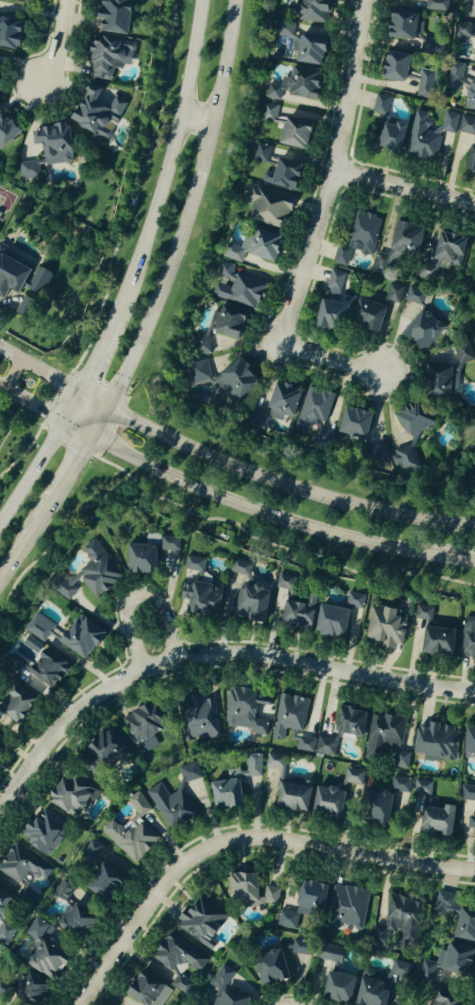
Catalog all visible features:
building: (24, 0)
building: (436, 5)
building: (468, 8)
building: (310, 10)
building: (110, 16)
building: (397, 25)
building: (8, 34)
building: (465, 37)
building: (301, 44)
road: (57, 46)
building: (106, 56)
building: (390, 66)
building: (422, 85)
building: (293, 86)
building: (461, 86)
building: (379, 104)
building: (93, 111)
building: (268, 112)
road: (197, 119)
building: (466, 125)
building: (5, 131)
building: (291, 133)
building: (387, 135)
building: (428, 136)
building: (52, 143)
building: (261, 154)
road: (167, 162)
building: (28, 170)
building: (280, 175)
road: (406, 188)
building: (266, 206)
road: (181, 225)
road: (319, 225)
building: (357, 238)
building: (399, 245)
building: (250, 246)
building: (440, 253)
building: (9, 277)
building: (37, 283)
building: (332, 283)
building: (236, 287)
building: (393, 293)
building: (414, 296)
building: (325, 314)
building: (364, 316)
building: (226, 323)
building: (419, 331)
road: (9, 356)
road: (95, 356)
road: (11, 376)
road: (49, 377)
building: (220, 378)
building: (434, 382)
road: (1, 390)
traffic signals: (79, 393)
building: (278, 402)
road: (31, 408)
traffic signals: (108, 409)
building: (312, 409)
building: (409, 420)
building: (350, 424)
traffic signals: (60, 425)
traffic signals: (91, 440)
building: (375, 452)
road: (40, 454)
road: (72, 469)
road: (269, 482)
road: (260, 514)
road: (27, 538)
building: (167, 544)
building: (137, 559)
building: (193, 564)
building: (239, 568)
building: (87, 575)
building: (283, 583)
road: (138, 597)
building: (198, 599)
building: (354, 599)
building: (248, 603)
building: (421, 613)
building: (295, 616)
building: (329, 622)
building: (382, 628)
building: (66, 636)
building: (434, 642)
road: (207, 655)
building: (33, 665)
building: (11, 707)
building: (243, 711)
building: (288, 716)
building: (197, 719)
building: (140, 730)
building: (340, 730)
building: (384, 742)
building: (467, 742)
building: (304, 743)
building: (433, 743)
building: (104, 752)
building: (273, 762)
building: (252, 765)
building: (400, 786)
building: (68, 795)
building: (223, 795)
building: (288, 798)
building: (324, 802)
building: (170, 806)
building: (372, 808)
building: (468, 813)
building: (433, 822)
building: (131, 831)
building: (47, 832)
road: (246, 834)
building: (91, 852)
building: (25, 866)
building: (112, 883)
building: (249, 892)
building: (302, 905)
building: (5, 908)
building: (346, 909)
building: (454, 918)
building: (83, 919)
building: (399, 919)
building: (206, 921)
building: (53, 950)
building: (329, 954)
building: (180, 957)
building: (443, 963)
building: (277, 967)
building: (324, 968)
building: (398, 971)
building: (224, 977)
building: (333, 987)
building: (7, 988)
building: (153, 989)
building: (40, 990)
building: (367, 992)
road: (84, 998)
building: (440, 1002)

